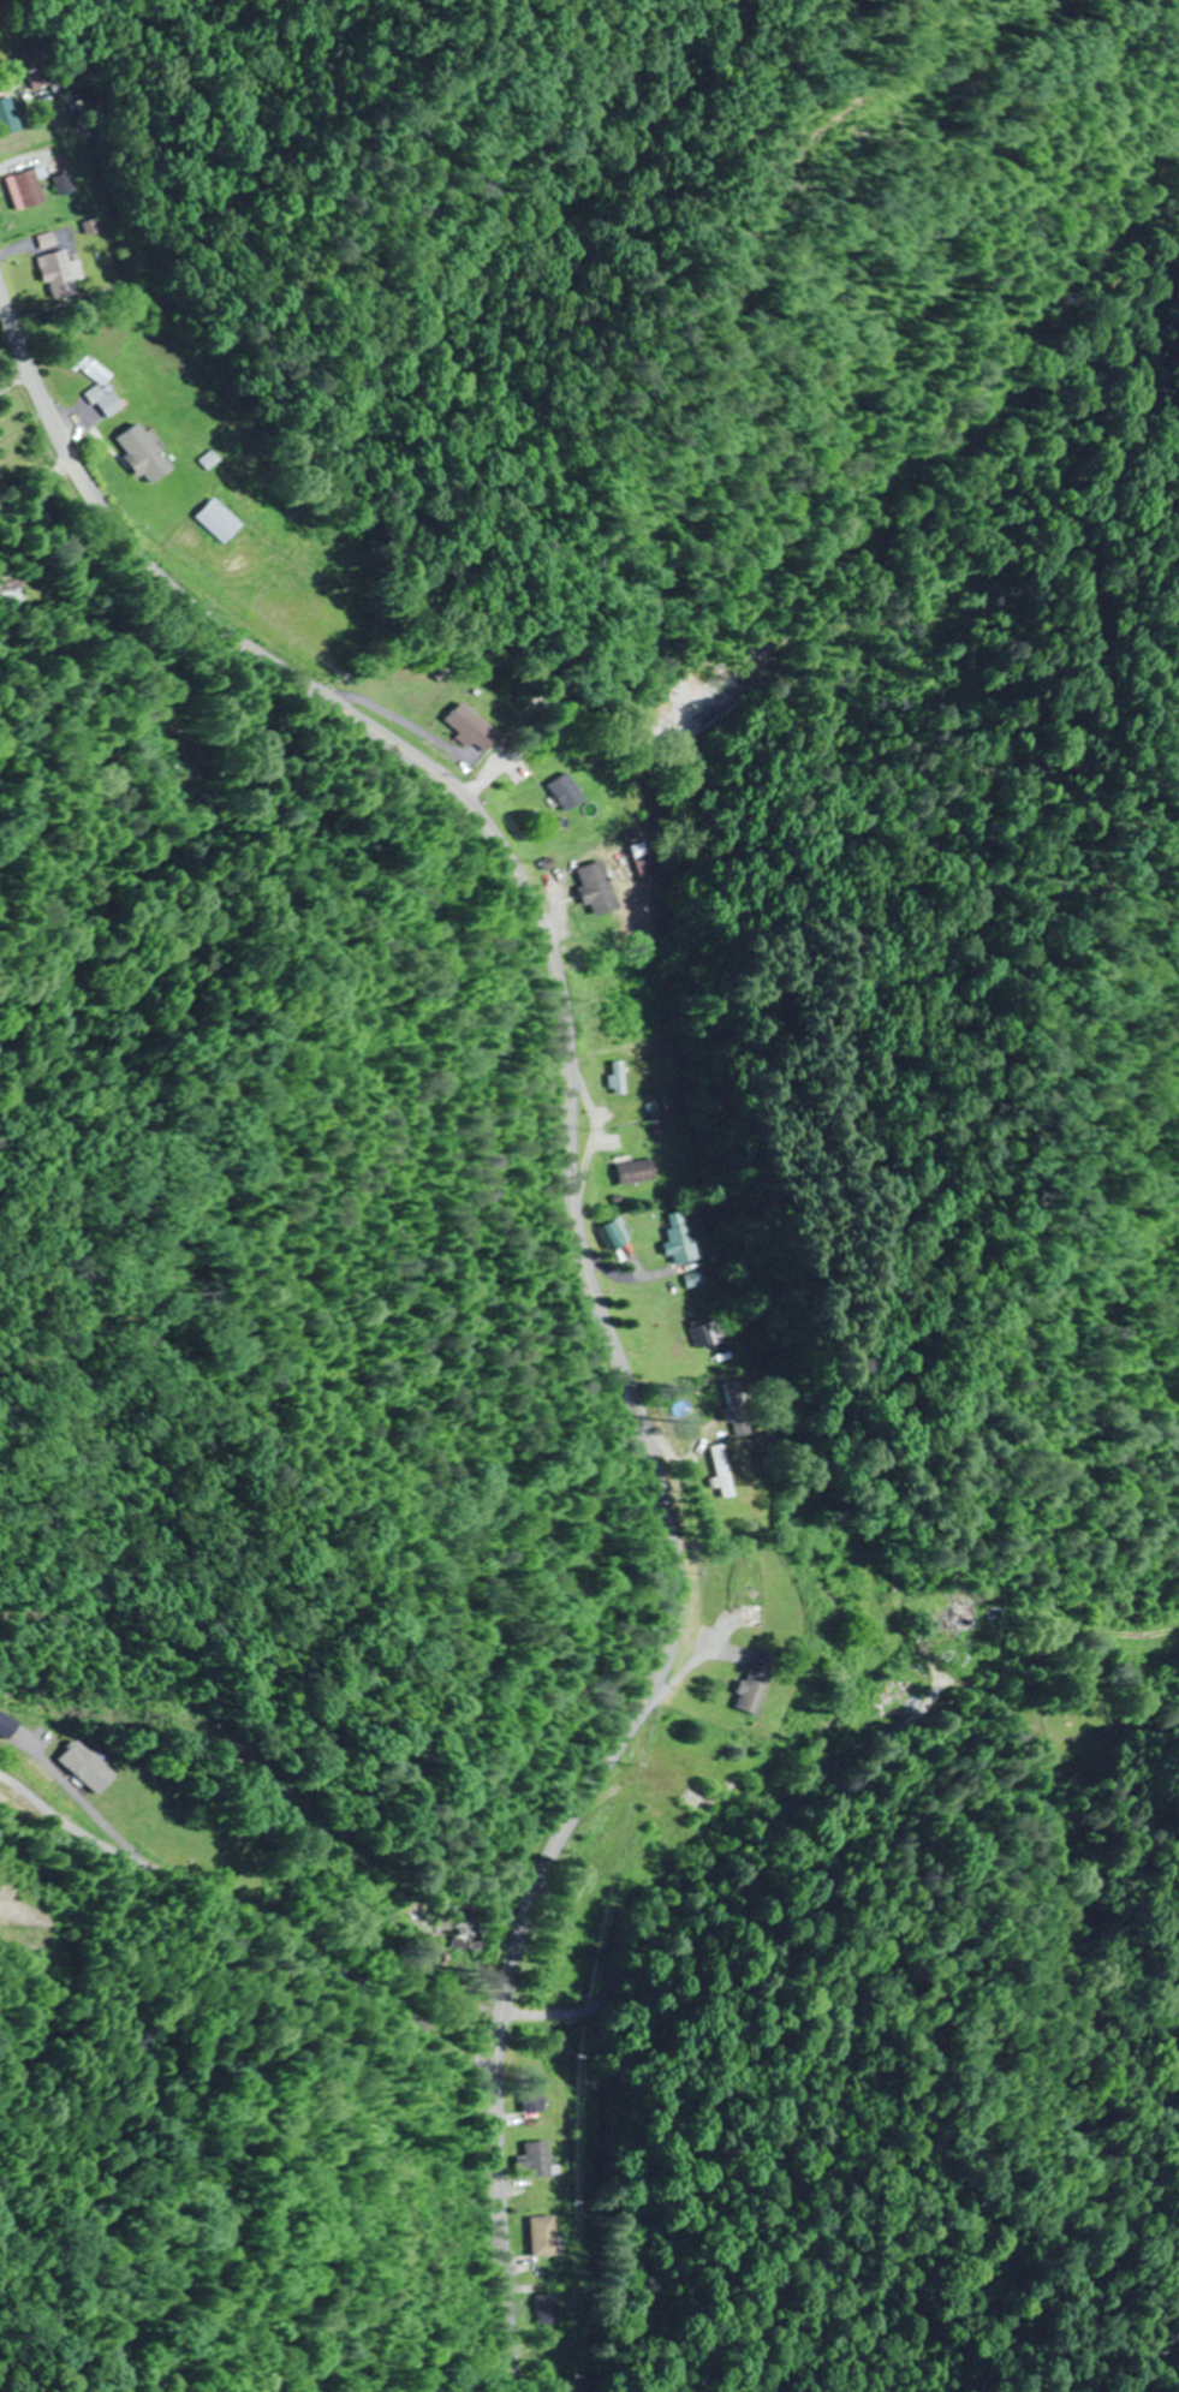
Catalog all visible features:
building: (43, 77)
building: (8, 118)
building: (29, 186)
building: (49, 240)
building: (65, 275)
road: (11, 353)
building: (148, 453)
building: (222, 520)
building: (13, 590)
building: (472, 725)
building: (568, 791)
building: (642, 858)
building: (601, 887)
building: (621, 1084)
building: (639, 1171)
building: (621, 1233)
building: (683, 1237)
road: (584, 1254)
building: (708, 1334)
building: (727, 1471)
building: (967, 1617)
building: (757, 1683)
road: (245, 1886)
building: (464, 1920)
building: (434, 1954)
building: (534, 2095)
building: (538, 2159)
building: (548, 2236)

